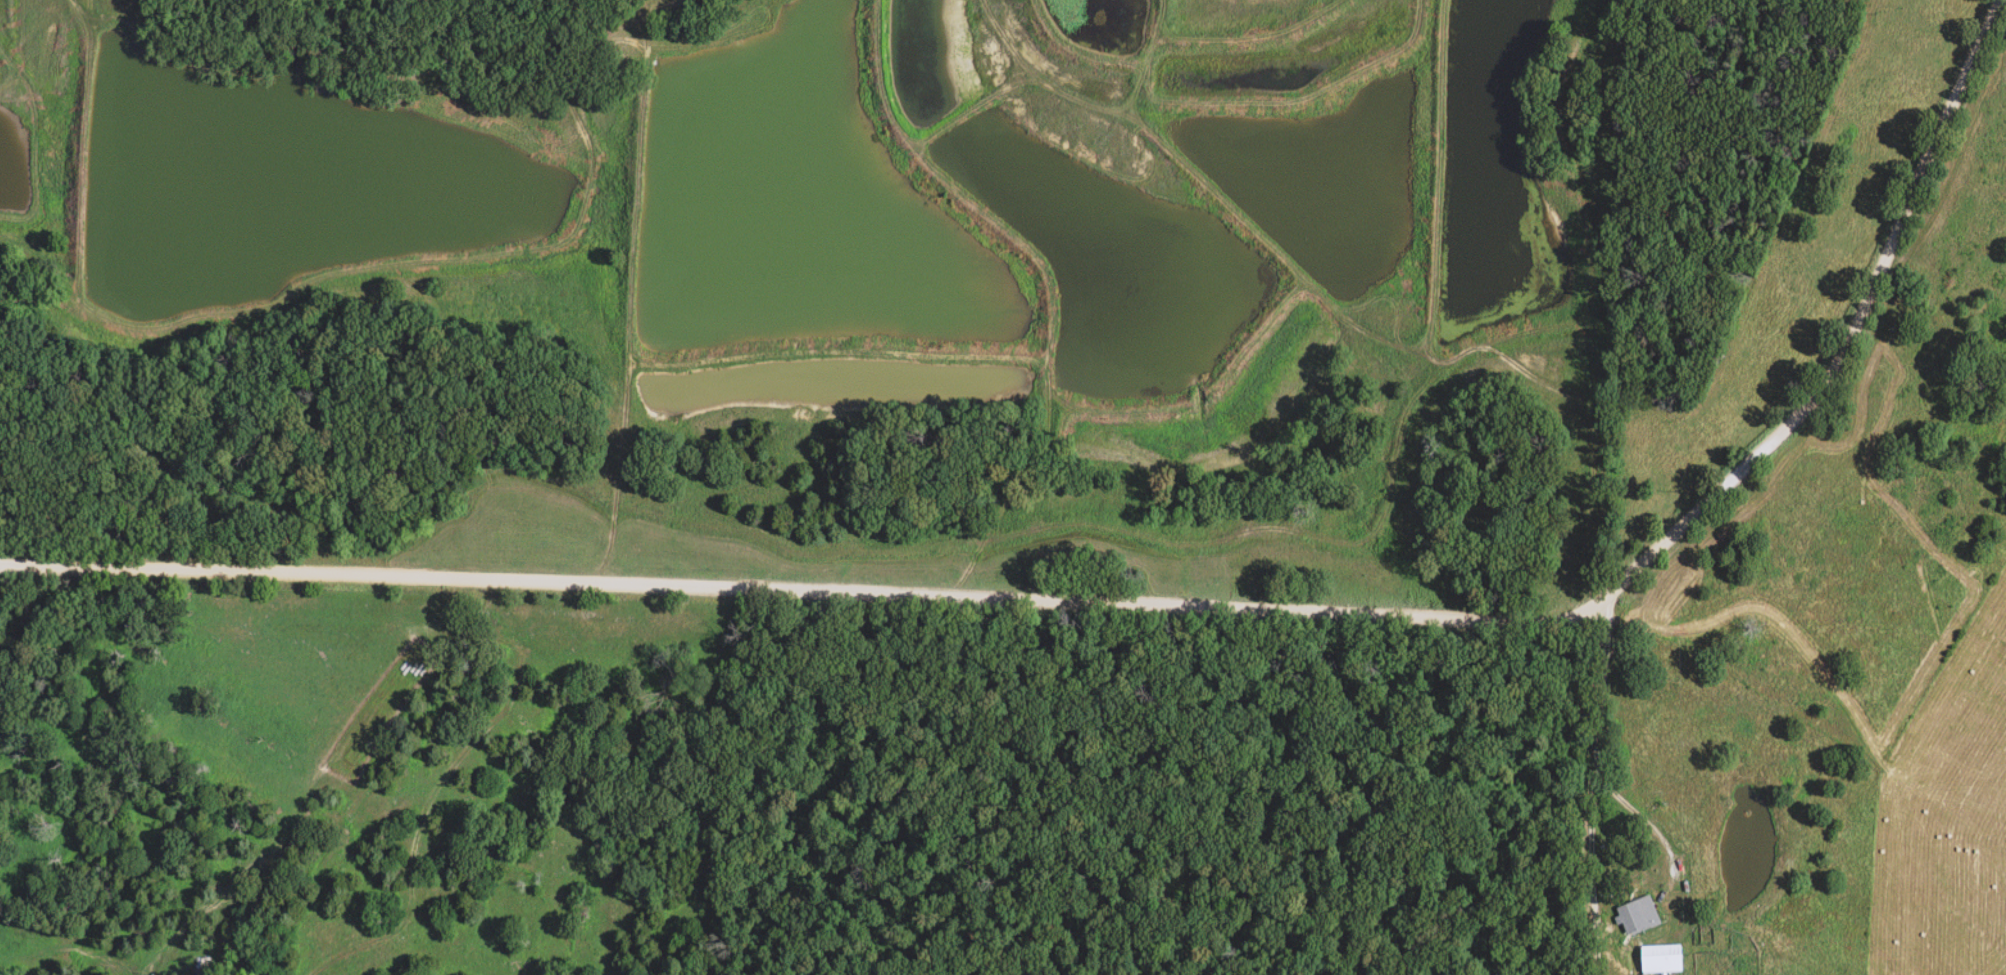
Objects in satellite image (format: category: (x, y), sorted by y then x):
road: (1172, 627)
road: (1594, 788)
building: (1661, 959)
building: (198, 967)

